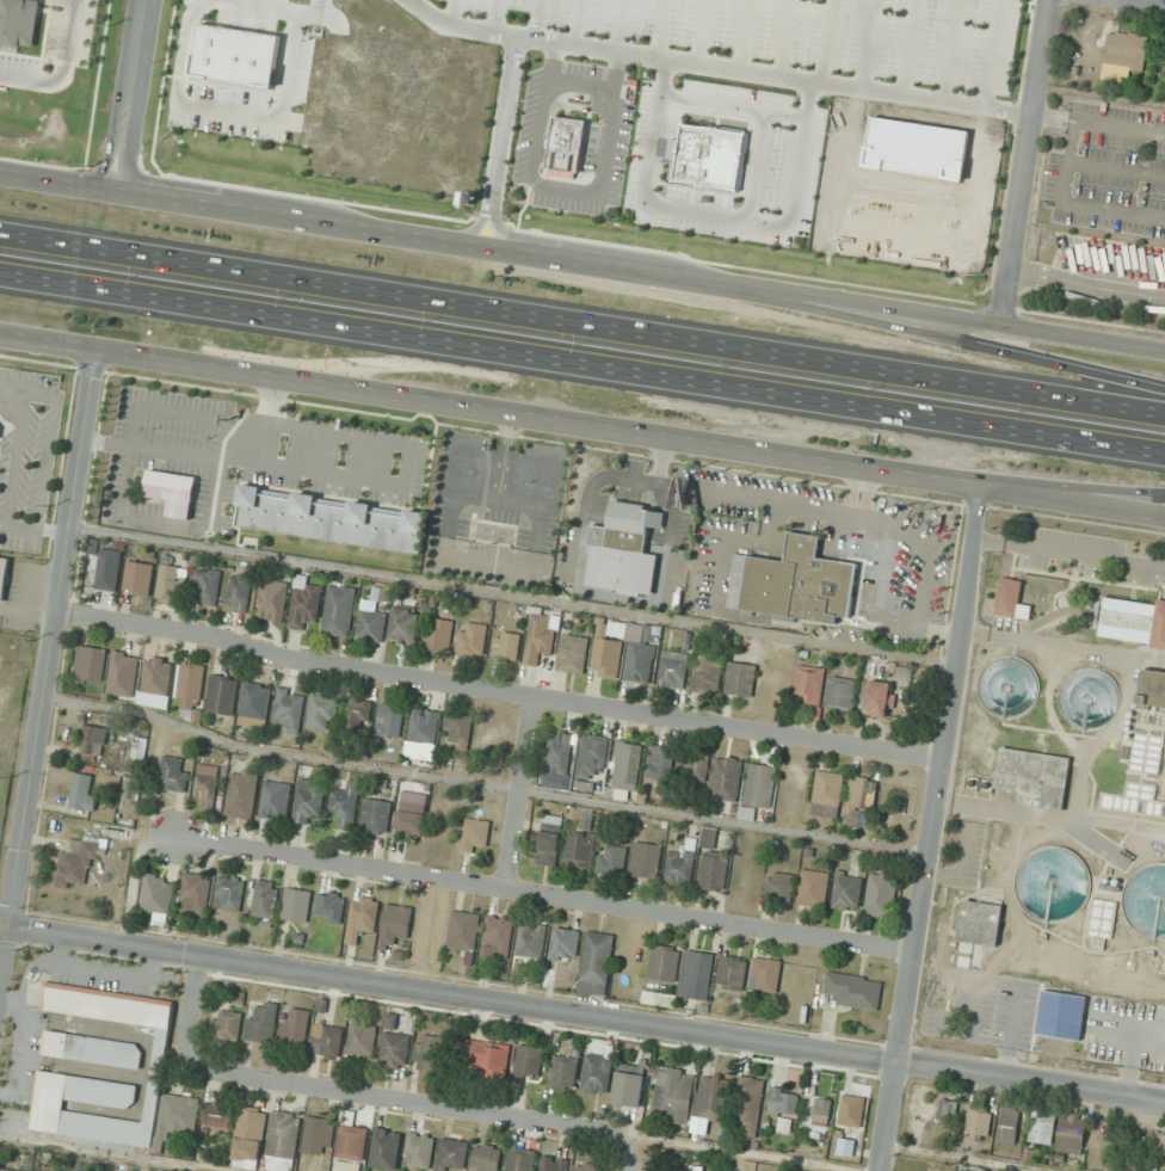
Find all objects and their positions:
road: (413, 1)
road: (1146, 2)
road: (306, 10)
road: (452, 12)
road: (494, 16)
road: (536, 18)
road: (578, 21)
building: (18, 23)
road: (620, 25)
road: (660, 27)
road: (703, 31)
road: (745, 35)
road: (785, 37)
building: (887, 38)
road: (826, 41)
road: (867, 44)
road: (908, 47)
building: (228, 50)
road: (949, 50)
road: (991, 54)
building: (1124, 55)
road: (717, 66)
road: (63, 69)
building: (781, 70)
road: (579, 80)
building: (941, 85)
road: (128, 95)
road: (710, 100)
road: (242, 111)
building: (927, 140)
road: (499, 141)
building: (565, 144)
building: (702, 153)
road: (1027, 162)
road: (645, 177)
road: (563, 189)
road: (764, 218)
road: (582, 261)
road: (582, 322)
road: (936, 337)
road: (49, 341)
road: (581, 368)
road: (487, 411)
road: (1070, 488)
building: (173, 492)
road: (1070, 500)
building: (333, 519)
building: (497, 532)
building: (625, 549)
building: (109, 569)
building: (5, 575)
building: (140, 578)
building: (168, 583)
building: (796, 584)
building: (208, 586)
building: (240, 592)
building: (273, 600)
building: (1012, 600)
building: (306, 603)
building: (339, 611)
building: (374, 616)
building: (1133, 622)
building: (406, 625)
building: (439, 635)
building: (473, 640)
building: (542, 640)
road: (1061, 643)
building: (507, 646)
building: (573, 654)
building: (608, 658)
road: (47, 661)
building: (641, 662)
building: (91, 664)
building: (674, 670)
building: (709, 671)
building: (123, 673)
building: (741, 679)
building: (156, 682)
building: (809, 685)
building: (997, 688)
building: (192, 690)
road: (497, 690)
building: (843, 694)
building: (223, 695)
building: (876, 698)
building: (1073, 698)
building: (255, 701)
building: (291, 709)
building: (323, 711)
building: (358, 715)
building: (389, 721)
building: (424, 725)
building: (458, 727)
building: (93, 740)
building: (140, 747)
building: (561, 750)
building: (1145, 752)
building: (592, 758)
building: (661, 763)
building: (628, 766)
building: (695, 766)
building: (173, 774)
road: (938, 774)
building: (1035, 775)
building: (727, 778)
building: (207, 787)
building: (759, 789)
building: (84, 791)
road: (517, 791)
building: (242, 794)
building: (827, 794)
building: (309, 799)
building: (859, 799)
building: (275, 800)
building: (345, 803)
building: (376, 815)
building: (411, 819)
building: (476, 834)
building: (709, 838)
building: (549, 848)
building: (579, 851)
building: (612, 859)
building: (646, 859)
building: (80, 861)
building: (680, 865)
building: (714, 871)
building: (1055, 883)
building: (778, 887)
building: (814, 888)
building: (846, 890)
building: (229, 893)
building: (881, 893)
building: (158, 894)
road: (543, 894)
building: (195, 895)
building: (265, 899)
building: (1142, 901)
building: (296, 905)
building: (331, 906)
building: (1107, 911)
building: (363, 913)
building: (981, 923)
building: (394, 925)
building: (464, 933)
building: (498, 937)
building: (531, 941)
building: (565, 944)
building: (596, 963)
building: (665, 963)
building: (732, 973)
building: (697, 975)
building: (765, 975)
building: (855, 990)
road: (448, 992)
building: (1061, 1015)
building: (263, 1021)
building: (390, 1022)
building: (295, 1027)
building: (226, 1028)
building: (362, 1040)
building: (327, 1041)
building: (161, 1048)
building: (93, 1049)
building: (394, 1050)
building: (429, 1053)
building: (487, 1056)
building: (528, 1064)
building: (563, 1072)
building: (597, 1074)
road: (1030, 1081)
building: (629, 1089)
road: (356, 1092)
building: (673, 1097)
building: (713, 1098)
building: (783, 1101)
building: (748, 1103)
building: (851, 1110)
building: (947, 1110)
building: (821, 1111)
building: (179, 1115)
building: (218, 1115)
road: (887, 1116)
building: (978, 1122)
building: (1007, 1126)
building: (1042, 1127)
building: (1072, 1133)
building: (249, 1135)
building: (283, 1135)
building: (319, 1135)
building: (351, 1139)
building: (1159, 1144)
building: (386, 1148)
building: (419, 1150)
building: (452, 1154)
road: (629, 1155)
building: (486, 1158)
building: (519, 1159)
building: (553, 1164)
building: (587, 1167)
building: (60, 1169)
building: (12, 1170)
building: (44, 1170)
building: (795, 1170)
building: (962, 1170)

